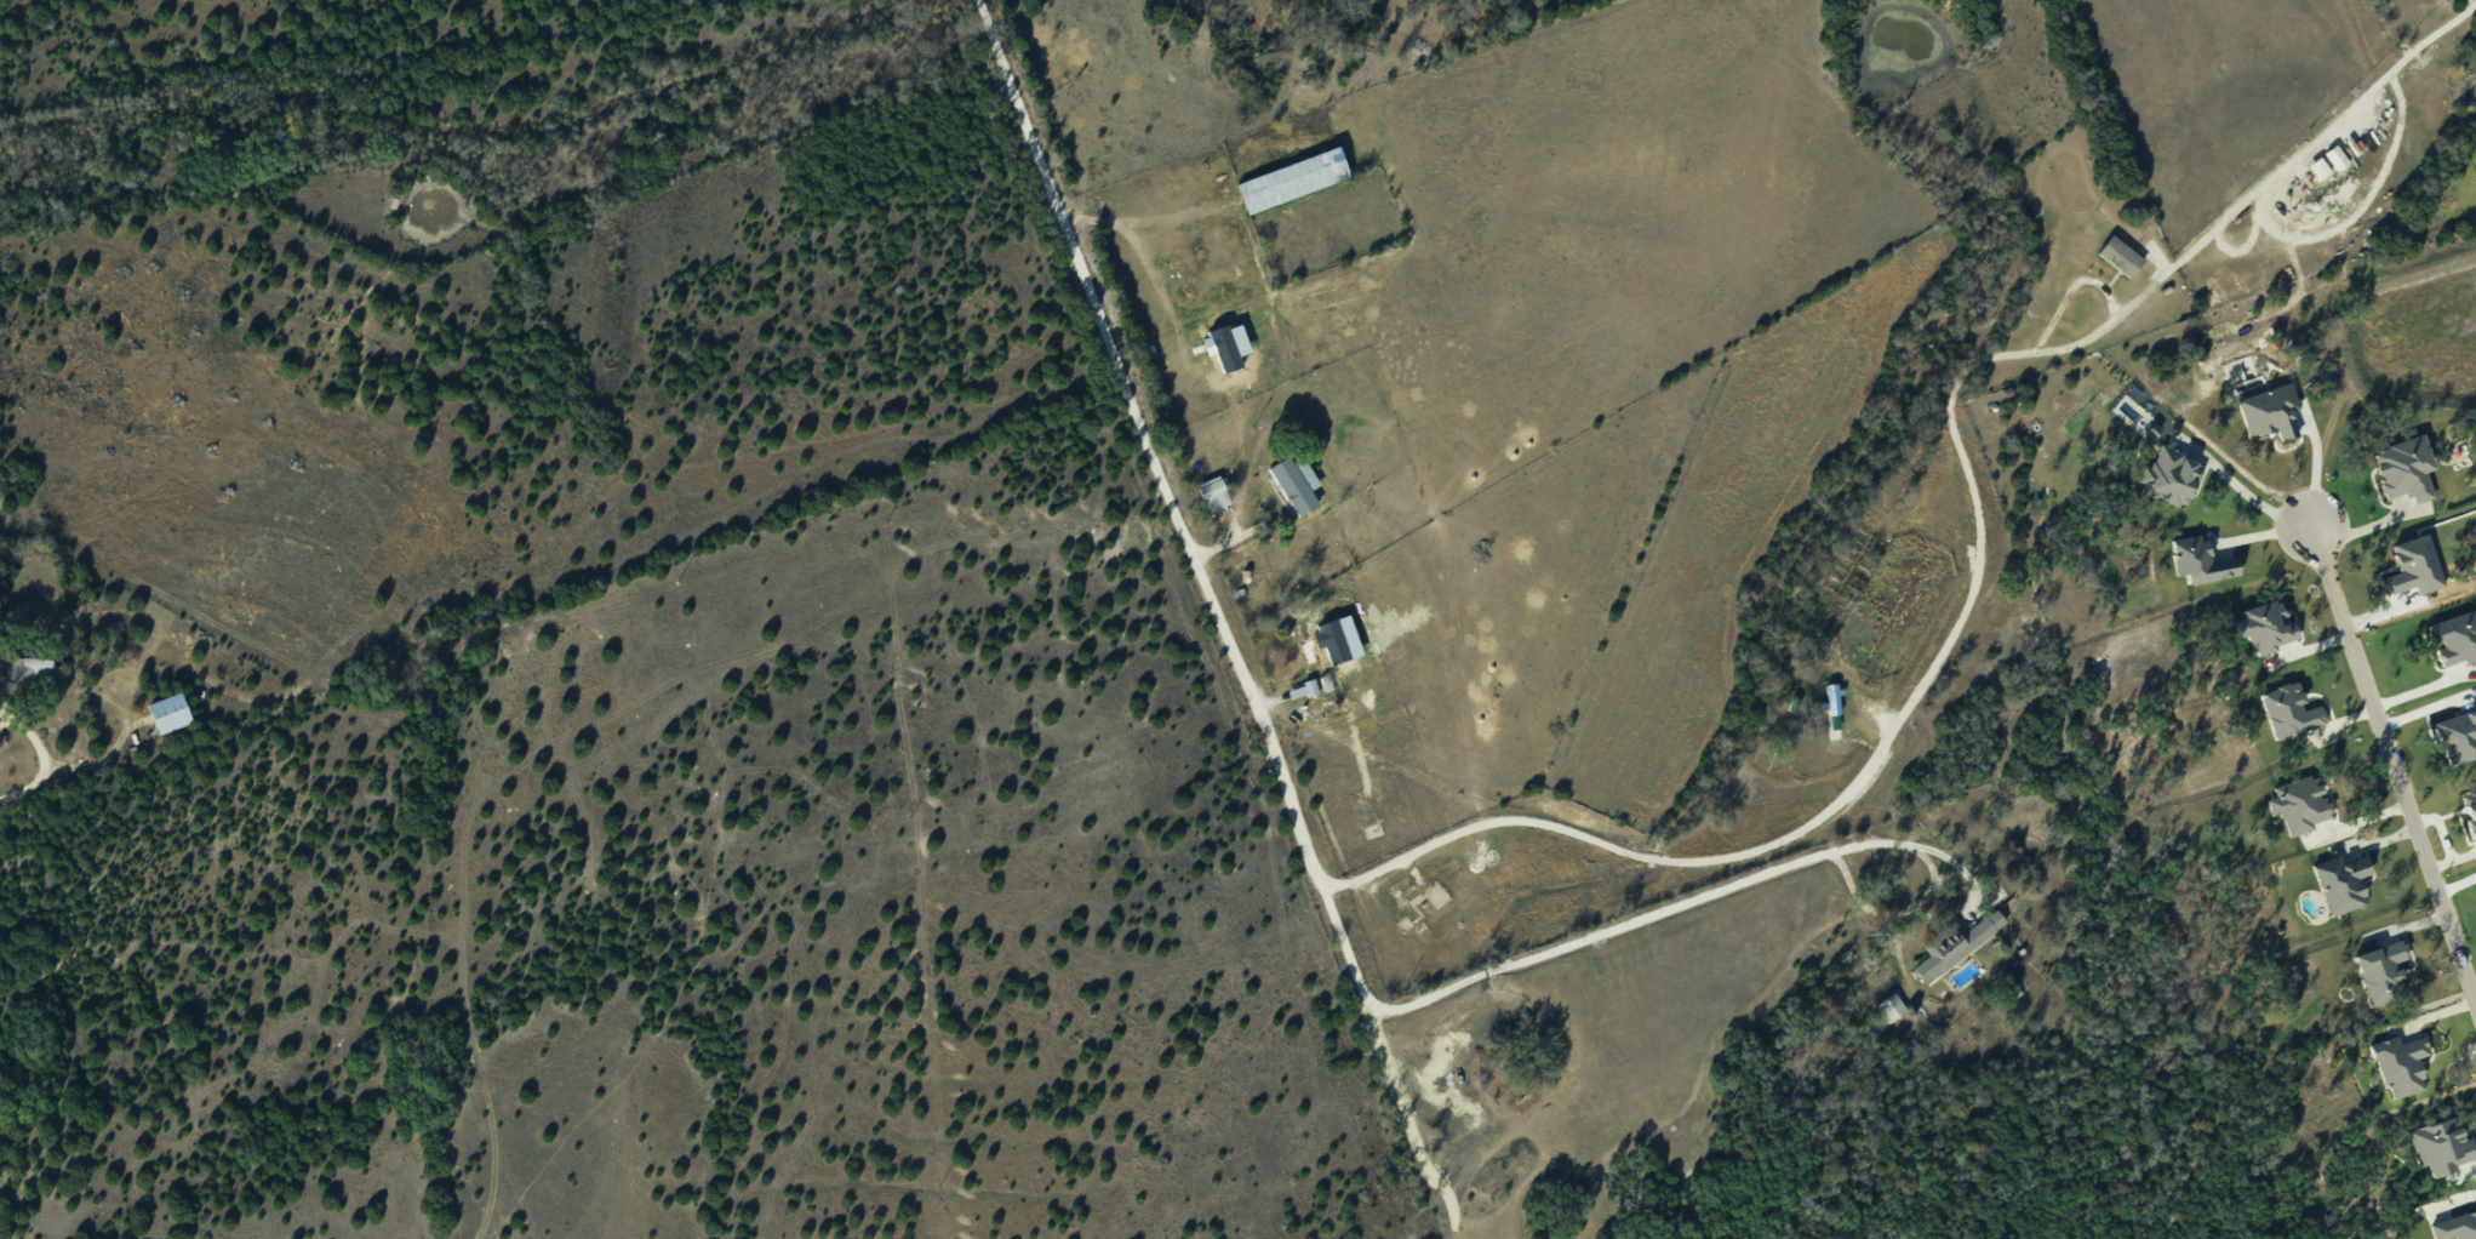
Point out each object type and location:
building: (1292, 179)
road: (1145, 247)
building: (2120, 256)
road: (1148, 445)
building: (2404, 468)
building: (2171, 476)
building: (1296, 484)
building: (1214, 492)
road: (2257, 499)
road: (1979, 555)
building: (2200, 560)
building: (2266, 624)
building: (1304, 632)
building: (2455, 638)
building: (30, 666)
building: (1302, 690)
building: (2289, 710)
building: (170, 712)
building: (1834, 712)
road: (40, 753)
road: (2394, 764)
building: (2471, 803)
building: (2299, 804)
building: (2340, 883)
road: (1682, 901)
building: (1407, 908)
building: (1956, 943)
building: (2381, 971)
building: (1892, 1006)
building: (2400, 1064)
building: (2440, 1146)
building: (2455, 1227)

